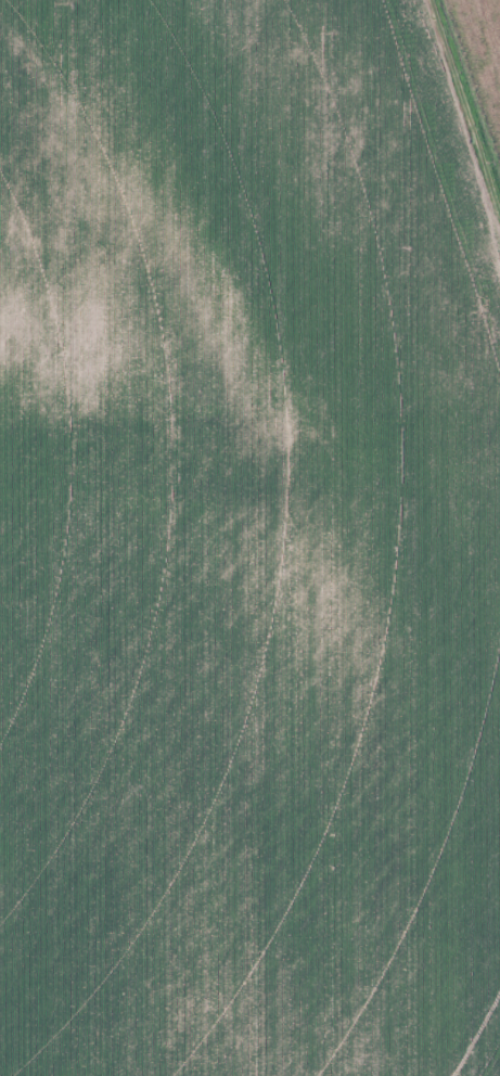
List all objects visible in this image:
road: (471, 102)

